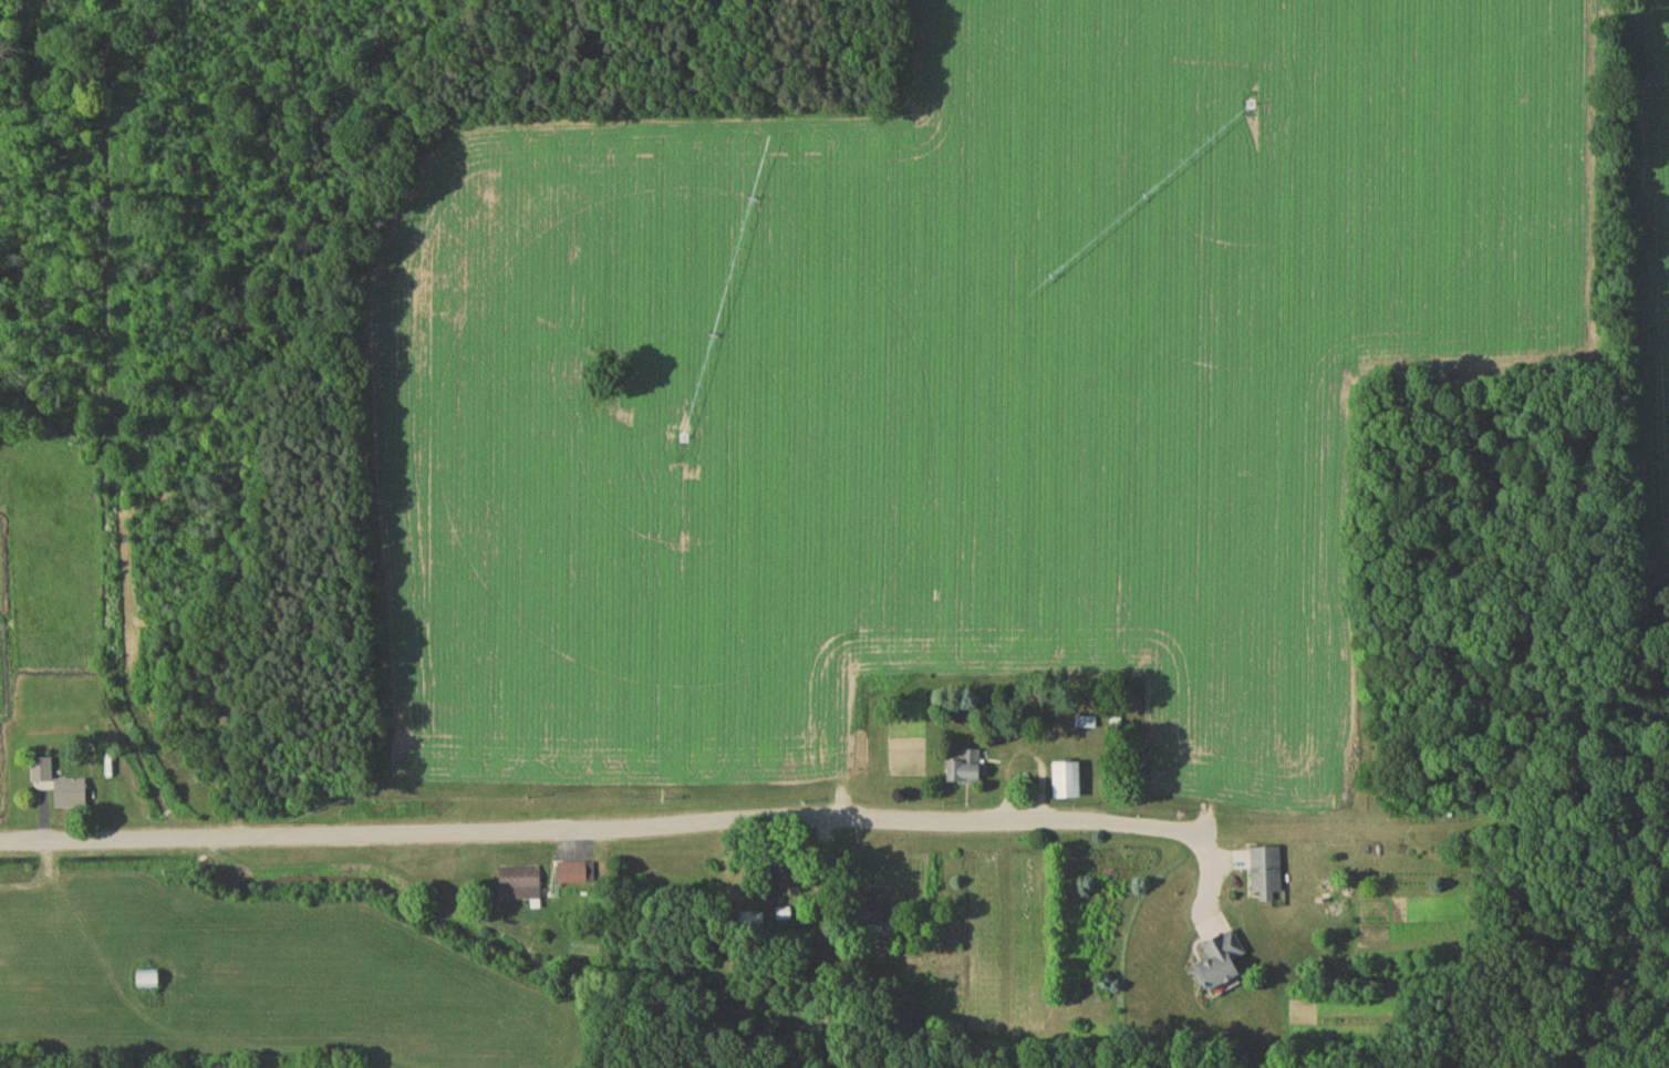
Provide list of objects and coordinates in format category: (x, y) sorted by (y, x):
building: (968, 770)
building: (42, 773)
building: (1069, 784)
building: (72, 796)
road: (1160, 821)
road: (523, 829)
building: (578, 875)
building: (1268, 875)
building: (520, 885)
building: (750, 922)
building: (1224, 966)
building: (149, 983)

